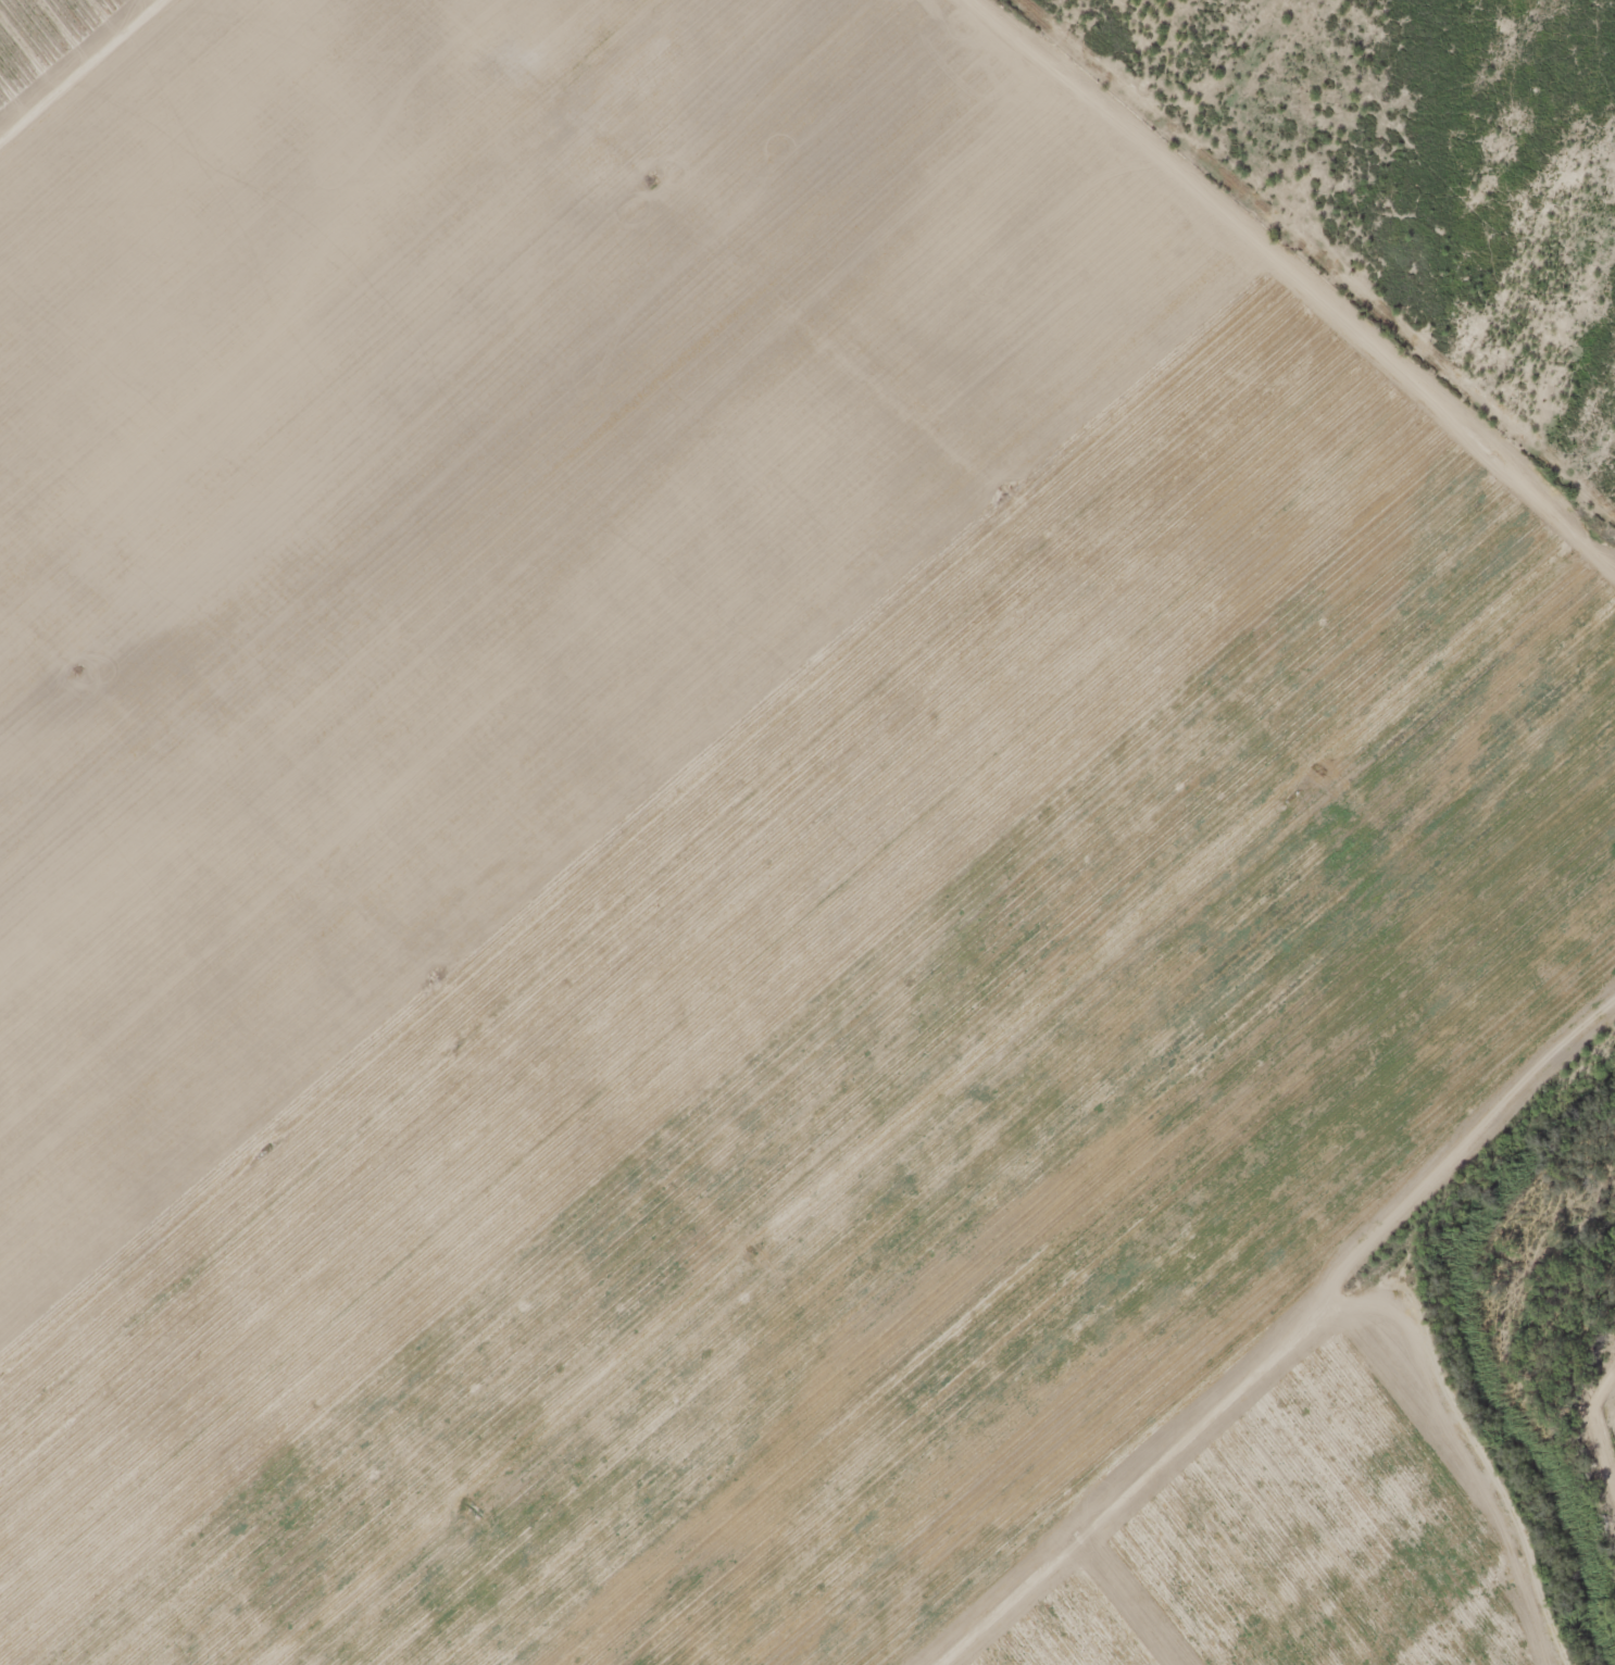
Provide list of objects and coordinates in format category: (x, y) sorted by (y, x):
road: (86, 75)
road: (1284, 1357)

